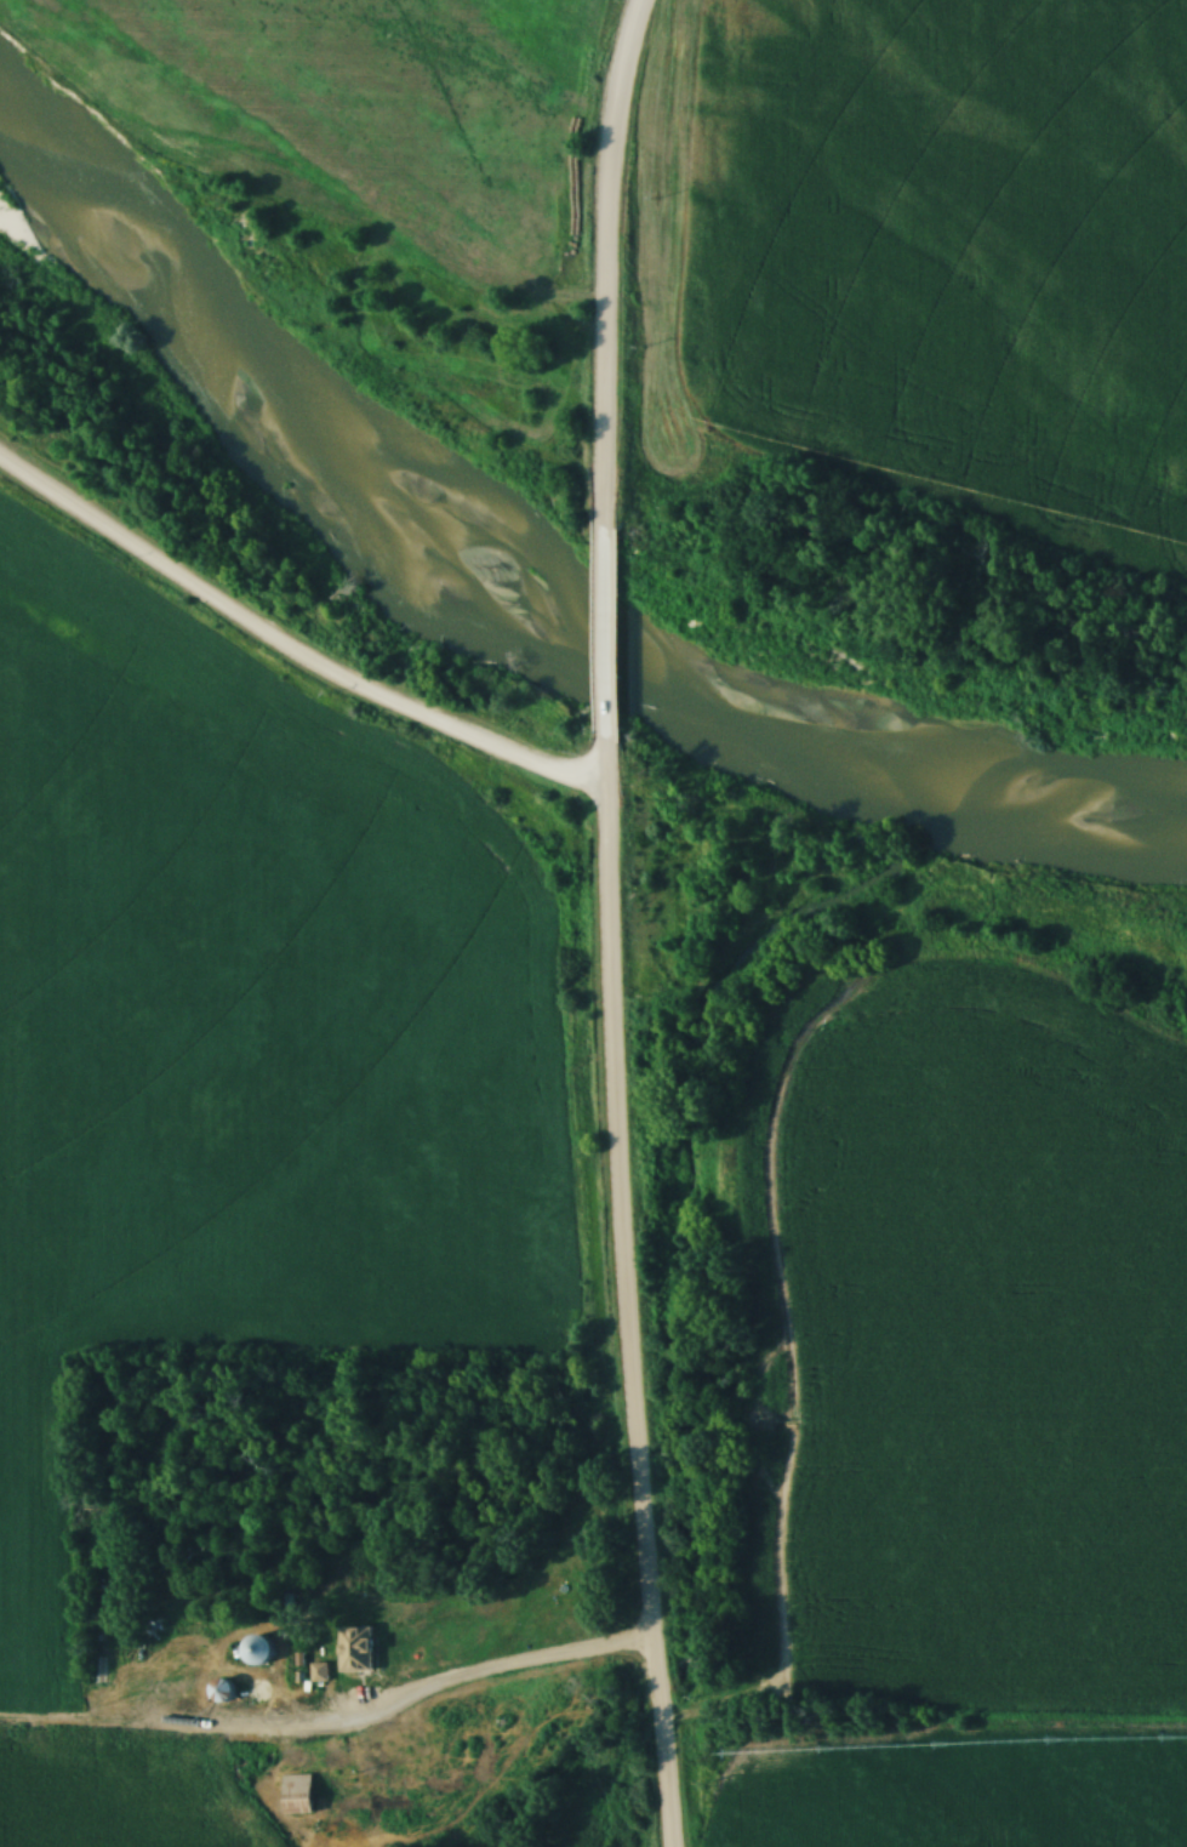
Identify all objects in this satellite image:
road: (606, 261)
river: (520, 589)
road: (603, 634)
road: (286, 654)
road: (624, 1294)
building: (354, 1649)
building: (256, 1651)
building: (318, 1671)
road: (501, 1675)
building: (222, 1688)
building: (295, 1794)

